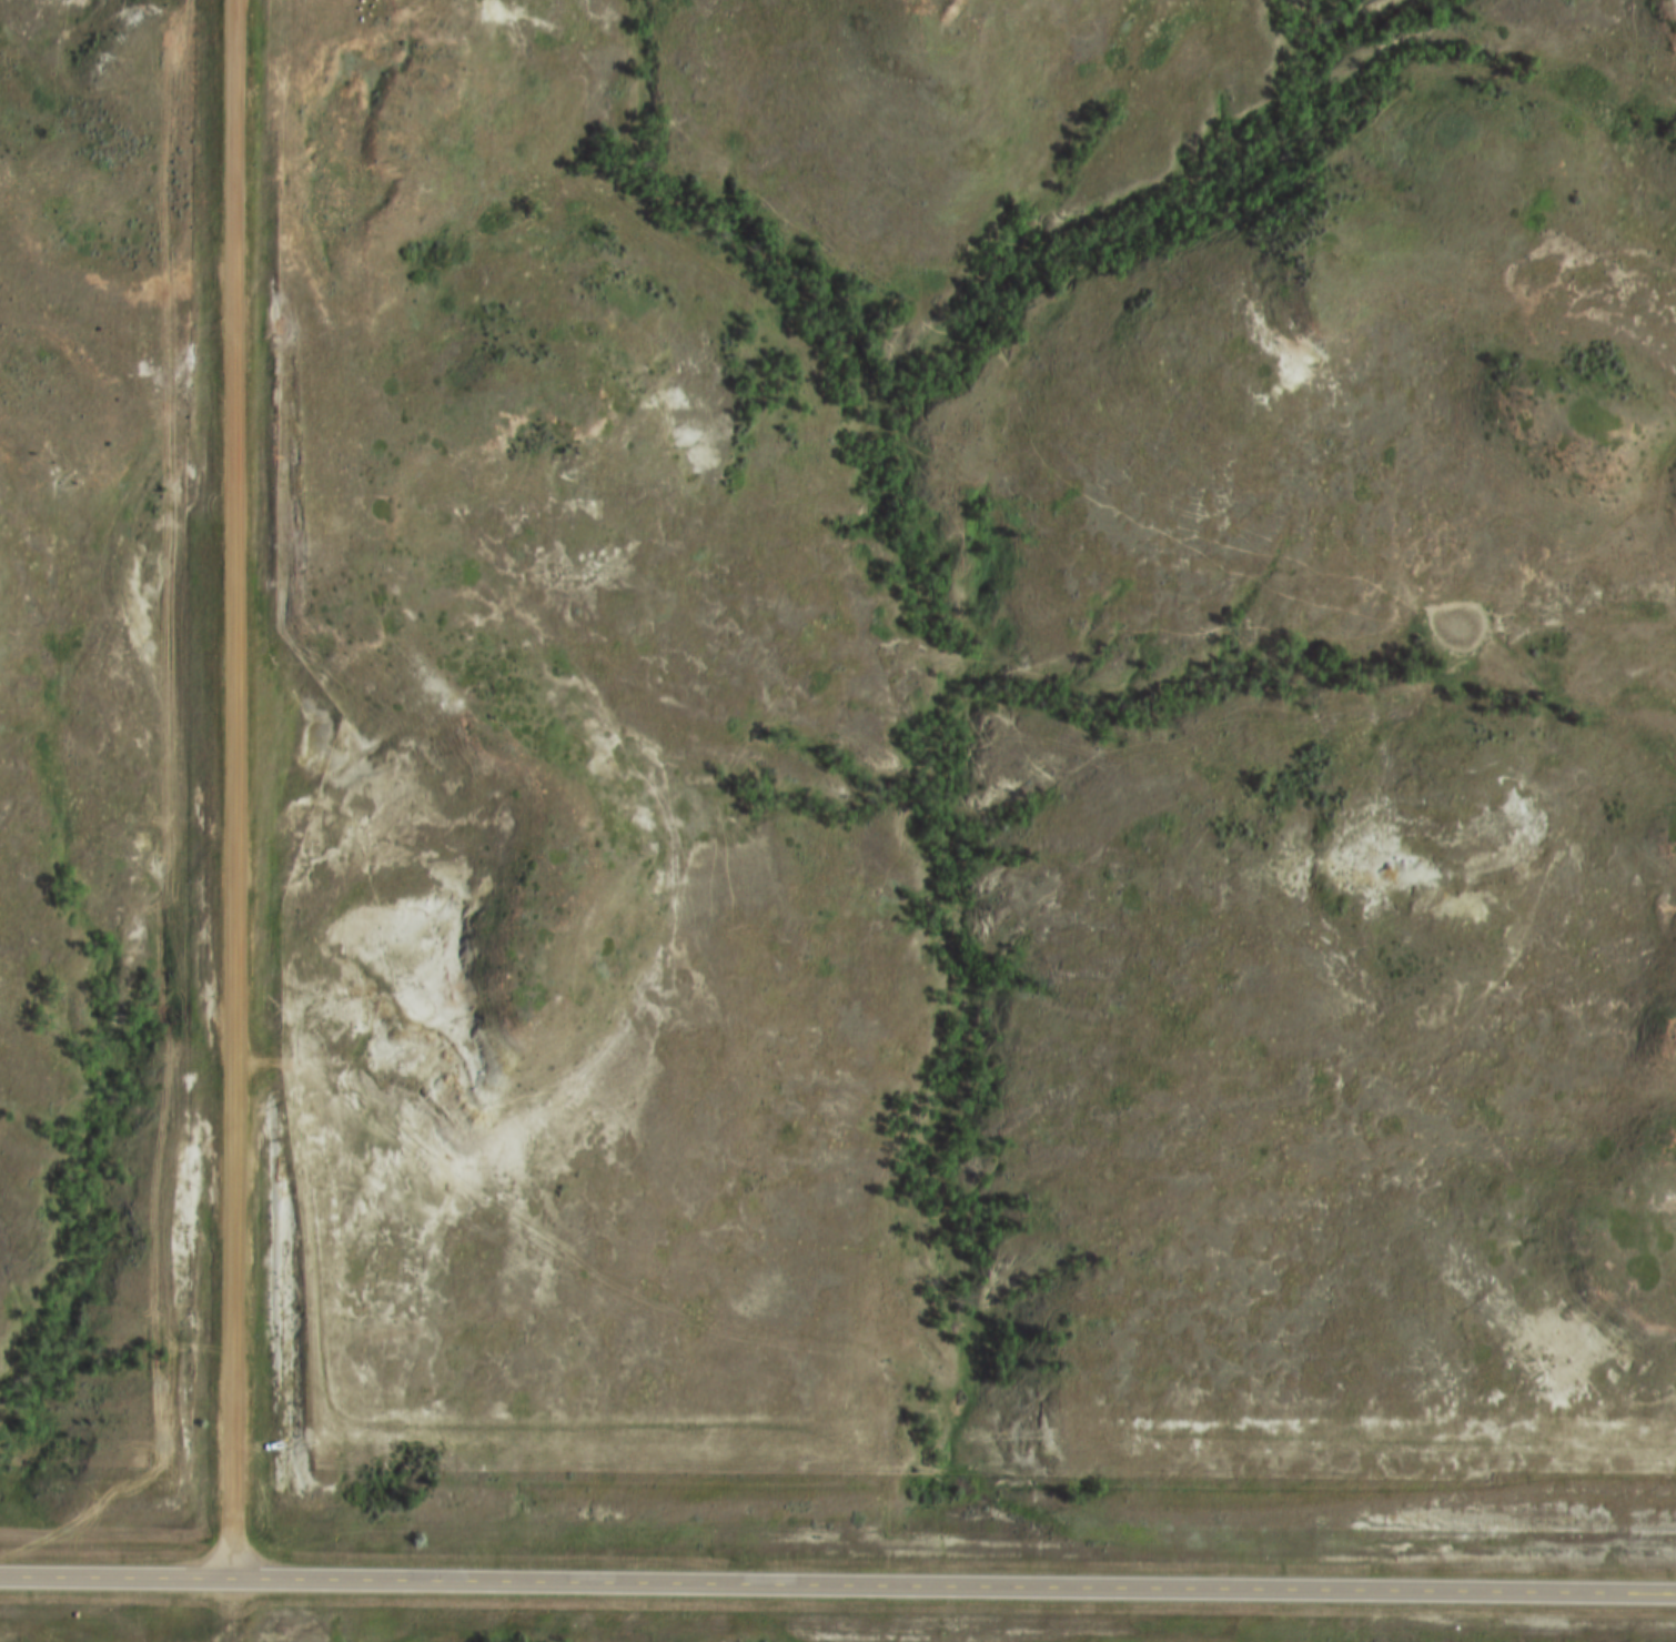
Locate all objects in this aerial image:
road: (236, 789)
road: (838, 1585)
road: (230, 1614)

